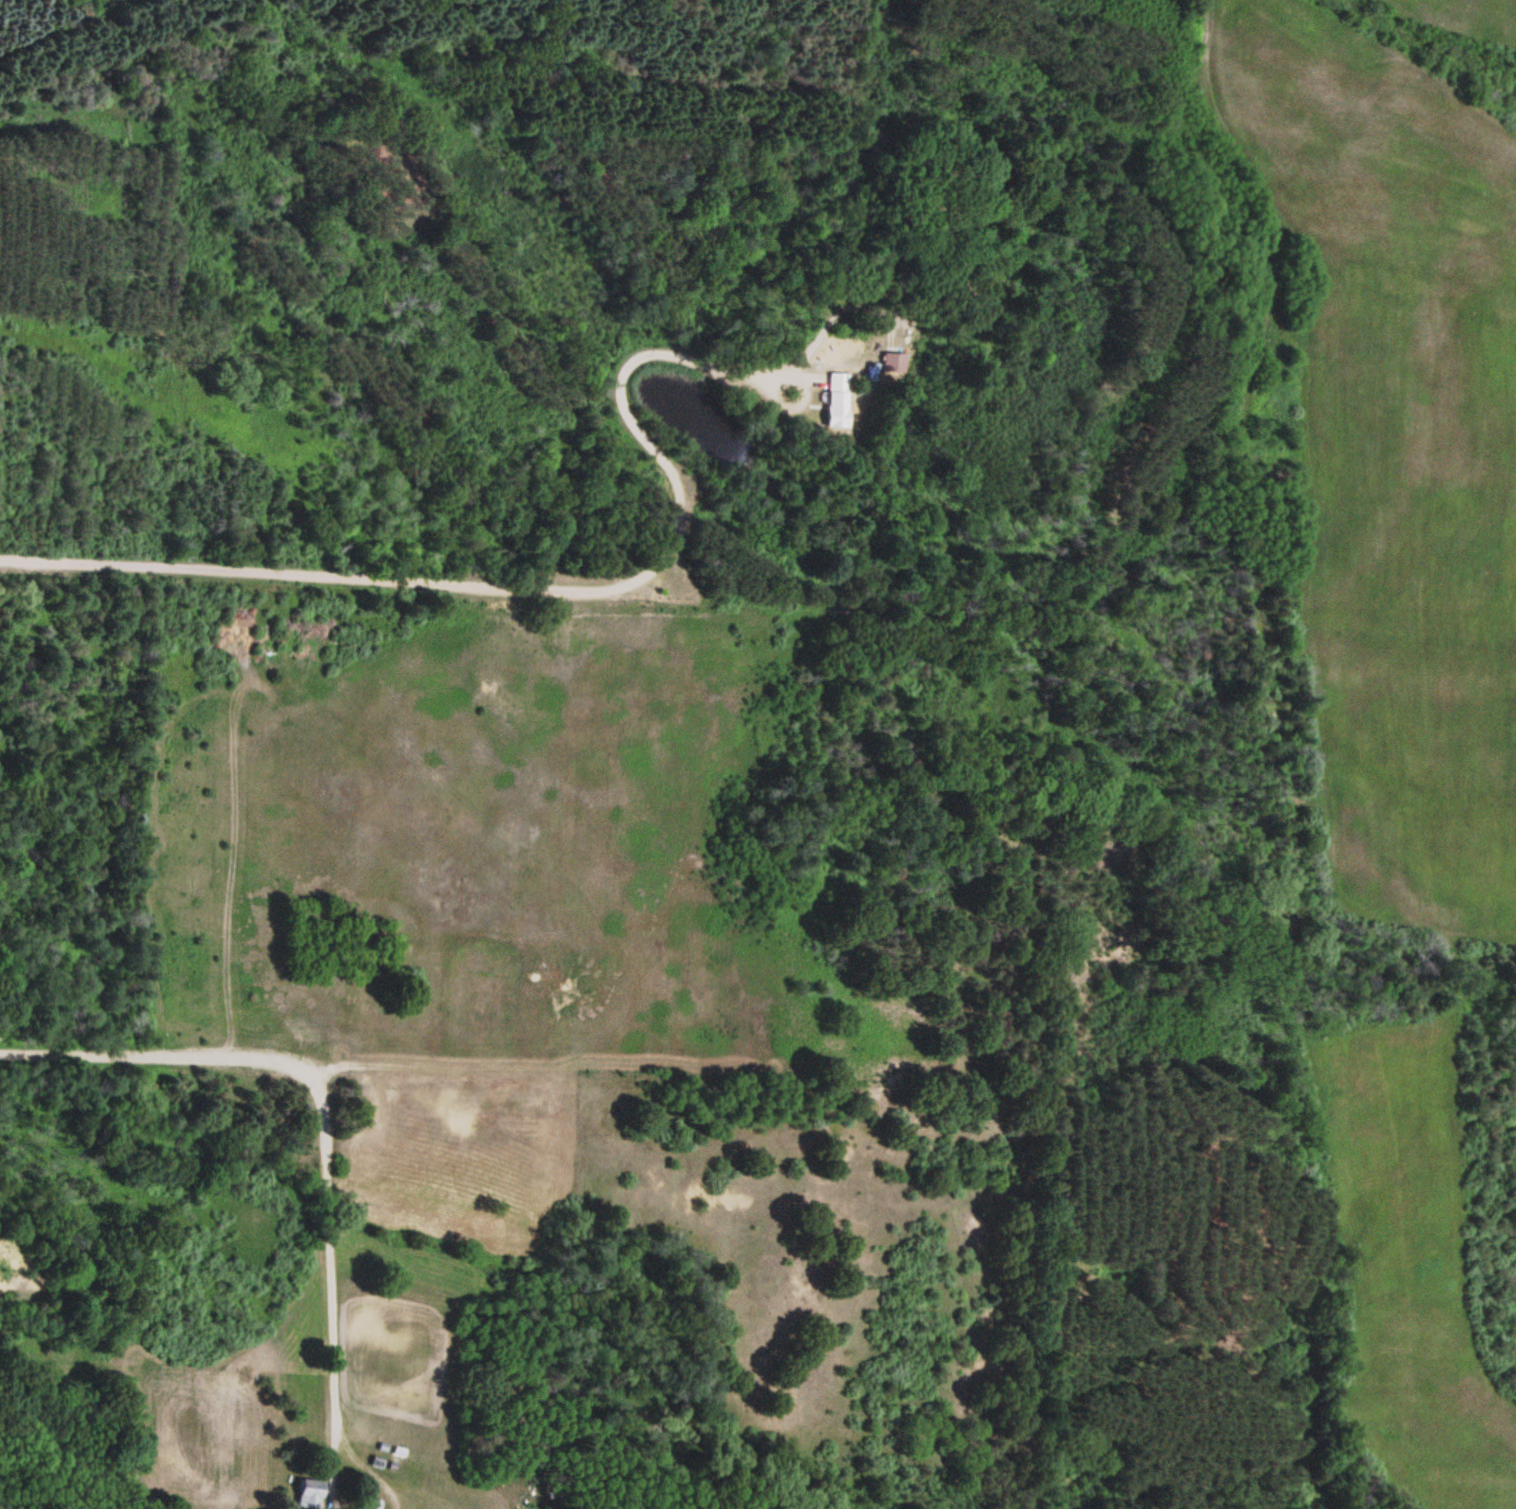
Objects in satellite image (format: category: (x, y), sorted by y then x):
building: (833, 401)
road: (317, 1102)
building: (398, 1459)

